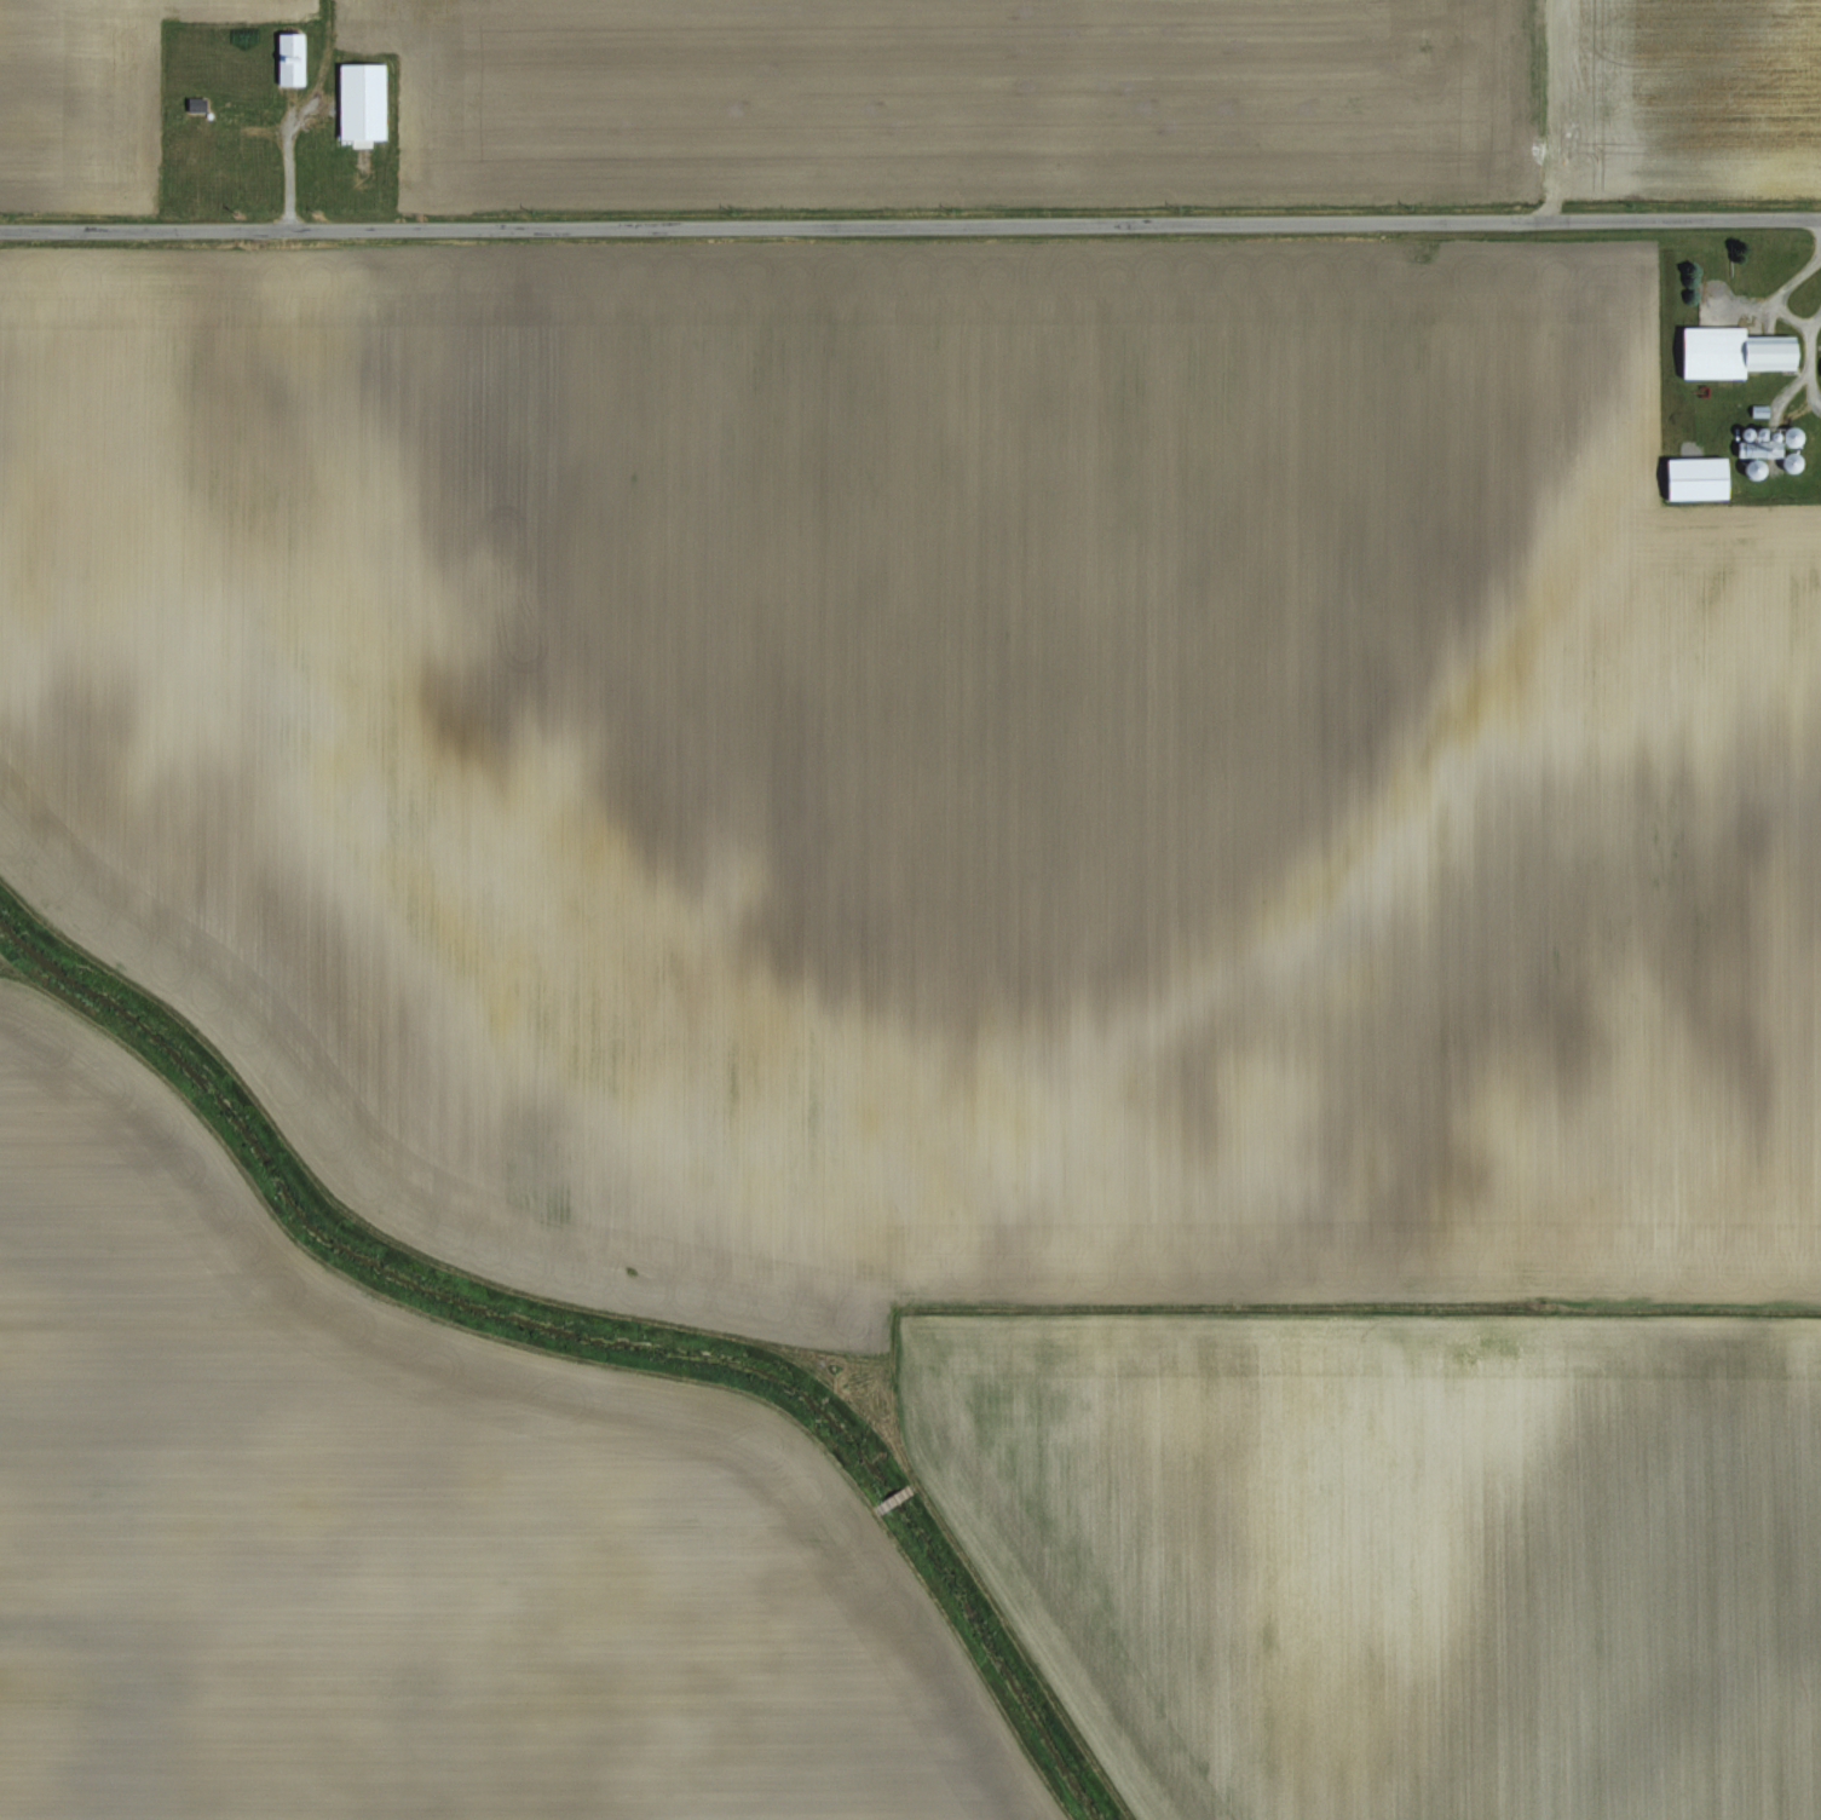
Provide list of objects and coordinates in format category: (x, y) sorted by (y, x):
building: (290, 56)
road: (910, 221)
road: (1817, 236)
road: (1779, 288)
road: (1808, 349)
building: (1733, 350)

